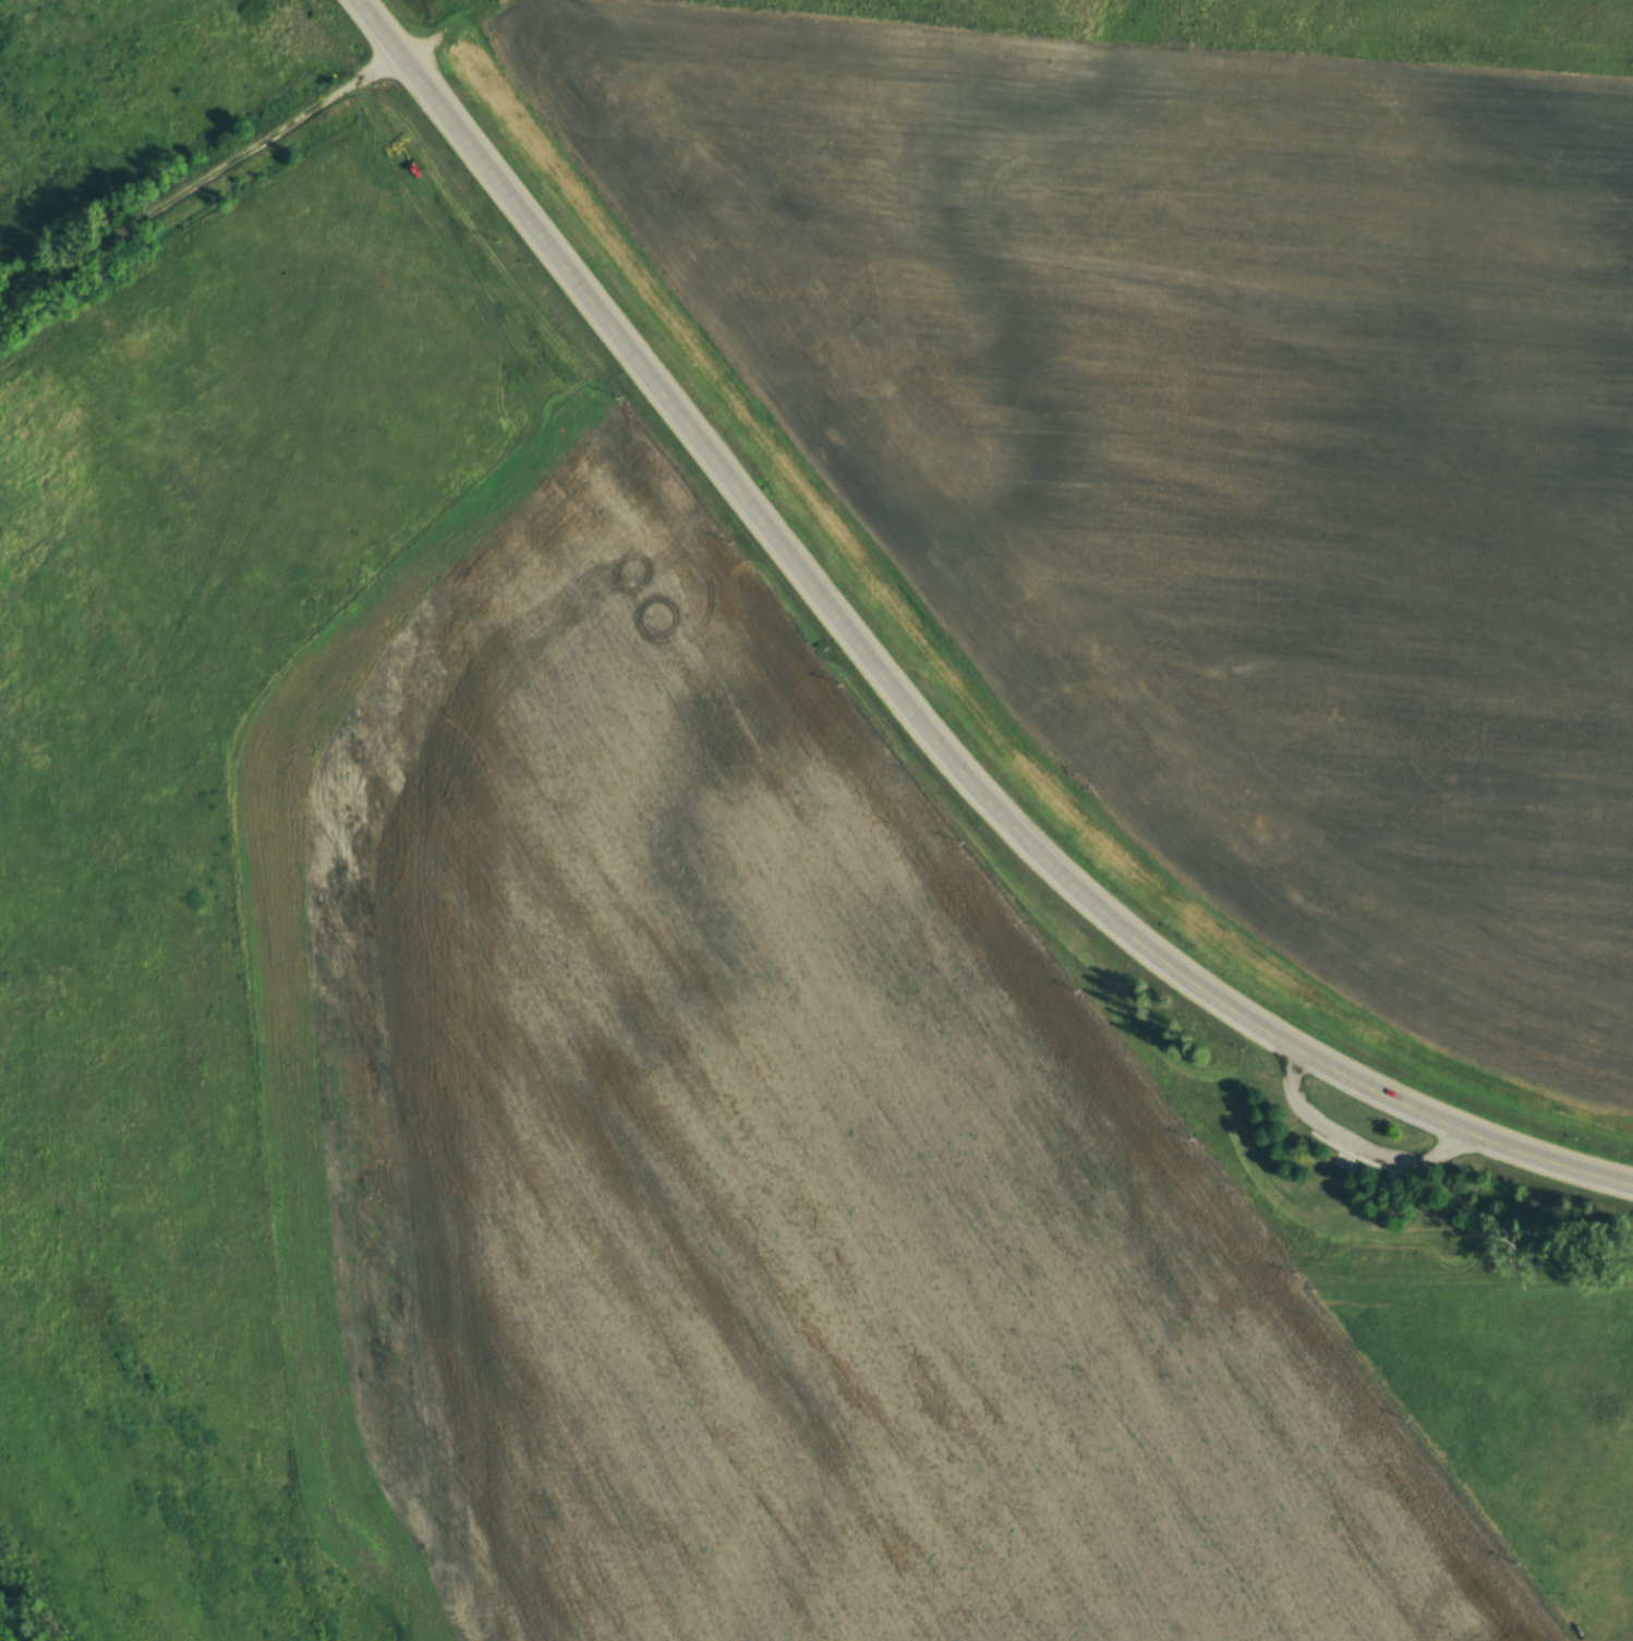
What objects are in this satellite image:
road: (376, 25)
road: (198, 180)
road: (922, 729)
road: (1351, 1141)
park: (1333, 1145)
road: (1347, 1146)
road: (1345, 1151)
road: (1338, 1166)
road: (1383, 1172)

